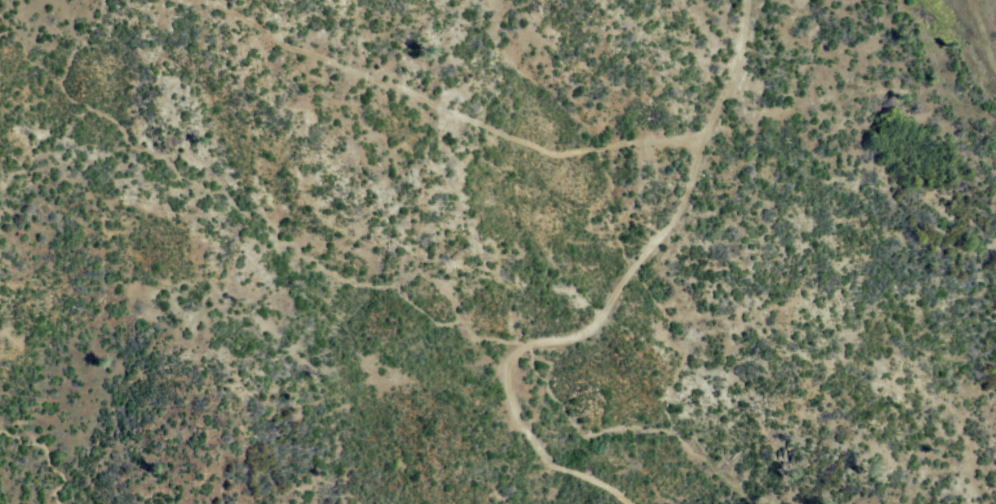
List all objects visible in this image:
road: (619, 297)

